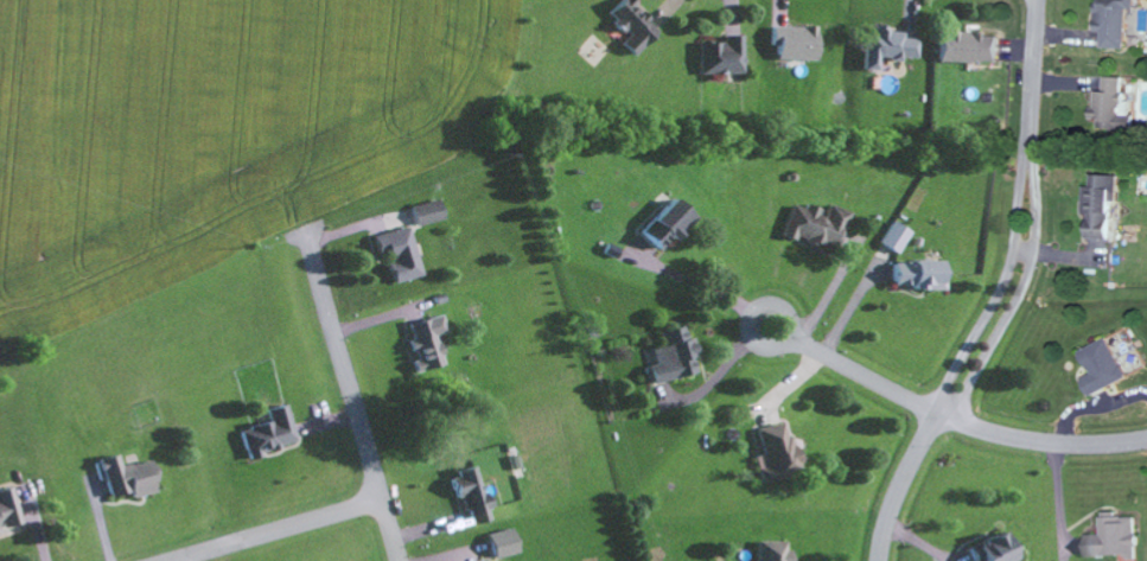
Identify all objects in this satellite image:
building: (1110, 21)
building: (630, 24)
building: (792, 40)
building: (886, 45)
building: (966, 46)
building: (720, 55)
building: (1107, 103)
building: (1098, 204)
building: (423, 211)
building: (814, 223)
building: (663, 224)
building: (893, 236)
building: (395, 253)
road: (1030, 267)
building: (916, 274)
road: (689, 280)
road: (833, 286)
road: (1001, 292)
road: (784, 310)
building: (423, 342)
building: (670, 356)
building: (1102, 366)
road: (709, 382)
road: (885, 388)
road: (353, 396)
road: (956, 407)
building: (267, 432)
road: (1052, 445)
building: (773, 451)
building: (123, 477)
building: (467, 496)
building: (7, 508)
road: (275, 531)
building: (1114, 536)
building: (498, 542)
building: (987, 549)
building: (771, 550)

